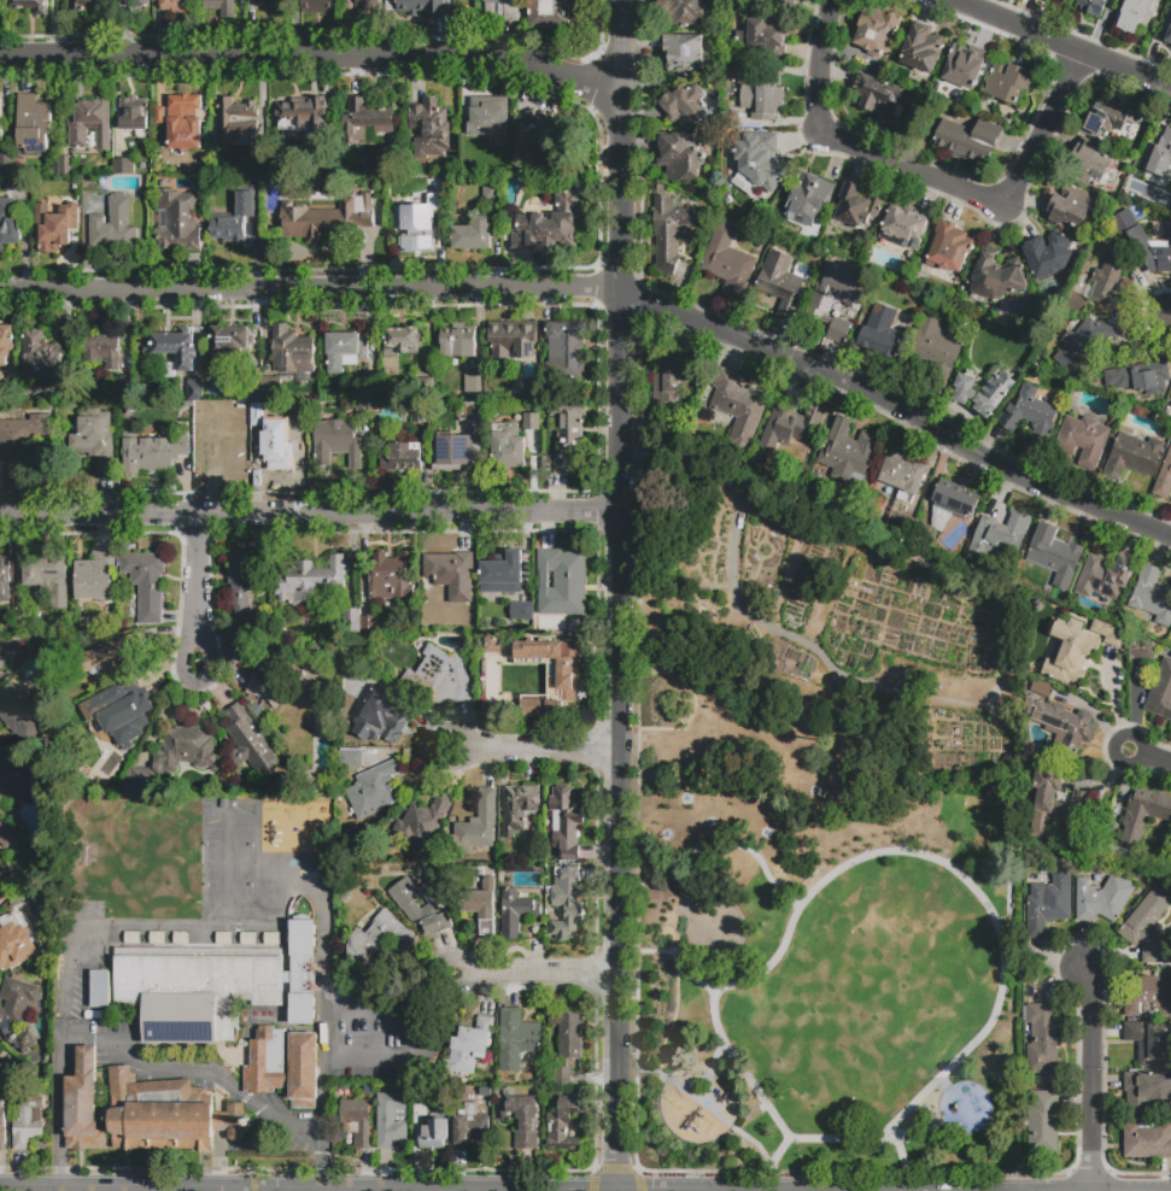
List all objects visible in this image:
building: (790, 1)
building: (139, 2)
building: (33, 5)
building: (90, 6)
building: (177, 6)
building: (219, 6)
building: (368, 6)
building: (1091, 6)
building: (277, 7)
building: (318, 7)
building: (425, 7)
building: (684, 10)
building: (500, 11)
building: (552, 12)
building: (1136, 13)
building: (877, 29)
building: (1166, 31)
building: (763, 37)
road: (1058, 42)
building: (921, 48)
building: (684, 53)
road: (315, 61)
building: (965, 65)
building: (728, 76)
building: (1007, 82)
building: (762, 96)
building: (879, 99)
building: (684, 105)
building: (134, 113)
building: (159, 115)
building: (305, 117)
building: (486, 117)
building: (0, 118)
building: (1109, 118)
building: (235, 119)
building: (364, 119)
building: (732, 119)
building: (89, 122)
building: (183, 122)
building: (33, 124)
building: (429, 128)
building: (968, 140)
building: (548, 142)
building: (680, 154)
building: (1161, 154)
building: (760, 159)
building: (260, 160)
building: (1089, 163)
building: (123, 164)
building: (6, 166)
building: (66, 168)
road: (929, 175)
building: (14, 184)
building: (491, 188)
building: (808, 199)
building: (1070, 206)
building: (856, 207)
building: (324, 218)
building: (180, 221)
building: (233, 221)
building: (8, 223)
building: (53, 225)
building: (550, 225)
building: (113, 227)
building: (416, 228)
building: (906, 228)
building: (669, 233)
building: (473, 235)
building: (1150, 241)
building: (949, 247)
building: (1047, 254)
building: (728, 260)
building: (996, 275)
building: (1107, 281)
building: (781, 282)
road: (609, 298)
building: (821, 304)
road: (1167, 318)
building: (882, 333)
building: (511, 339)
building: (232, 340)
building: (402, 341)
building: (457, 341)
building: (5, 342)
building: (1084, 344)
building: (176, 347)
building: (345, 350)
building: (564, 350)
building: (103, 351)
building: (291, 351)
building: (936, 351)
building: (40, 354)
building: (474, 377)
building: (1140, 377)
building: (669, 381)
building: (127, 383)
building: (65, 387)
building: (271, 387)
building: (368, 389)
building: (428, 389)
building: (984, 392)
building: (193, 393)
building: (1170, 406)
building: (739, 407)
building: (364, 411)
building: (418, 413)
building: (1030, 416)
building: (531, 421)
building: (790, 427)
building: (567, 434)
building: (677, 436)
building: (95, 439)
building: (1082, 440)
building: (338, 442)
building: (458, 442)
building: (23, 445)
building: (280, 446)
building: (510, 447)
building: (151, 451)
building: (848, 452)
building: (226, 456)
building: (1132, 456)
building: (403, 458)
building: (902, 475)
building: (1164, 477)
building: (943, 511)
road: (311, 514)
building: (902, 527)
building: (999, 536)
building: (1054, 556)
building: (503, 573)
building: (450, 575)
building: (95, 576)
building: (1105, 576)
building: (48, 577)
building: (309, 581)
building: (390, 581)
building: (561, 582)
building: (146, 583)
building: (5, 591)
road: (197, 591)
building: (245, 592)
road: (622, 594)
building: (1152, 595)
building: (523, 615)
building: (21, 618)
building: (351, 620)
building: (369, 624)
road: (768, 627)
building: (1108, 633)
building: (492, 644)
building: (1141, 649)
building: (1068, 655)
building: (110, 656)
building: (2, 662)
building: (568, 674)
building: (440, 679)
building: (263, 682)
building: (1040, 690)
building: (1160, 692)
building: (318, 697)
road: (685, 699)
building: (374, 711)
building: (112, 715)
building: (19, 718)
building: (1064, 728)
street lamp: (1101, 732)
building: (248, 743)
building: (134, 749)
road: (537, 752)
building: (176, 756)
building: (350, 757)
road: (1149, 757)
building: (39, 764)
building: (14, 785)
building: (374, 790)
building: (517, 806)
building: (1059, 810)
building: (1143, 812)
building: (566, 822)
building: (425, 825)
building: (476, 826)
road: (725, 833)
building: (5, 837)
building: (1120, 857)
building: (1169, 867)
building: (0, 890)
building: (1101, 898)
building: (564, 902)
building: (1047, 904)
building: (417, 908)
building: (479, 908)
building: (515, 913)
building: (1147, 928)
building: (131, 938)
building: (157, 938)
building: (180, 938)
building: (223, 938)
building: (14, 939)
building: (248, 939)
building: (271, 939)
building: (379, 940)
park: (813, 943)
road: (684, 947)
road: (658, 954)
road: (527, 976)
road: (696, 981)
building: (213, 987)
building: (99, 990)
building: (1148, 996)
building: (16, 1011)
road: (671, 1026)
building: (568, 1034)
building: (517, 1038)
building: (1043, 1039)
building: (1150, 1043)
building: (0, 1045)
building: (472, 1045)
road: (712, 1061)
building: (286, 1070)
road: (201, 1073)
building: (562, 1076)
road: (708, 1080)
road: (1090, 1080)
road: (943, 1081)
building: (1146, 1092)
building: (426, 1099)
road: (701, 1103)
building: (82, 1105)
building: (166, 1114)
road: (774, 1119)
building: (391, 1120)
building: (356, 1121)
building: (1, 1122)
building: (27, 1122)
building: (523, 1122)
building: (1043, 1122)
building: (564, 1126)
building: (470, 1128)
road: (55, 1130)
road: (918, 1131)
building: (435, 1132)
building: (1147, 1140)
road: (228, 1146)
road: (902, 1161)
road: (771, 1162)
road: (109, 1190)

